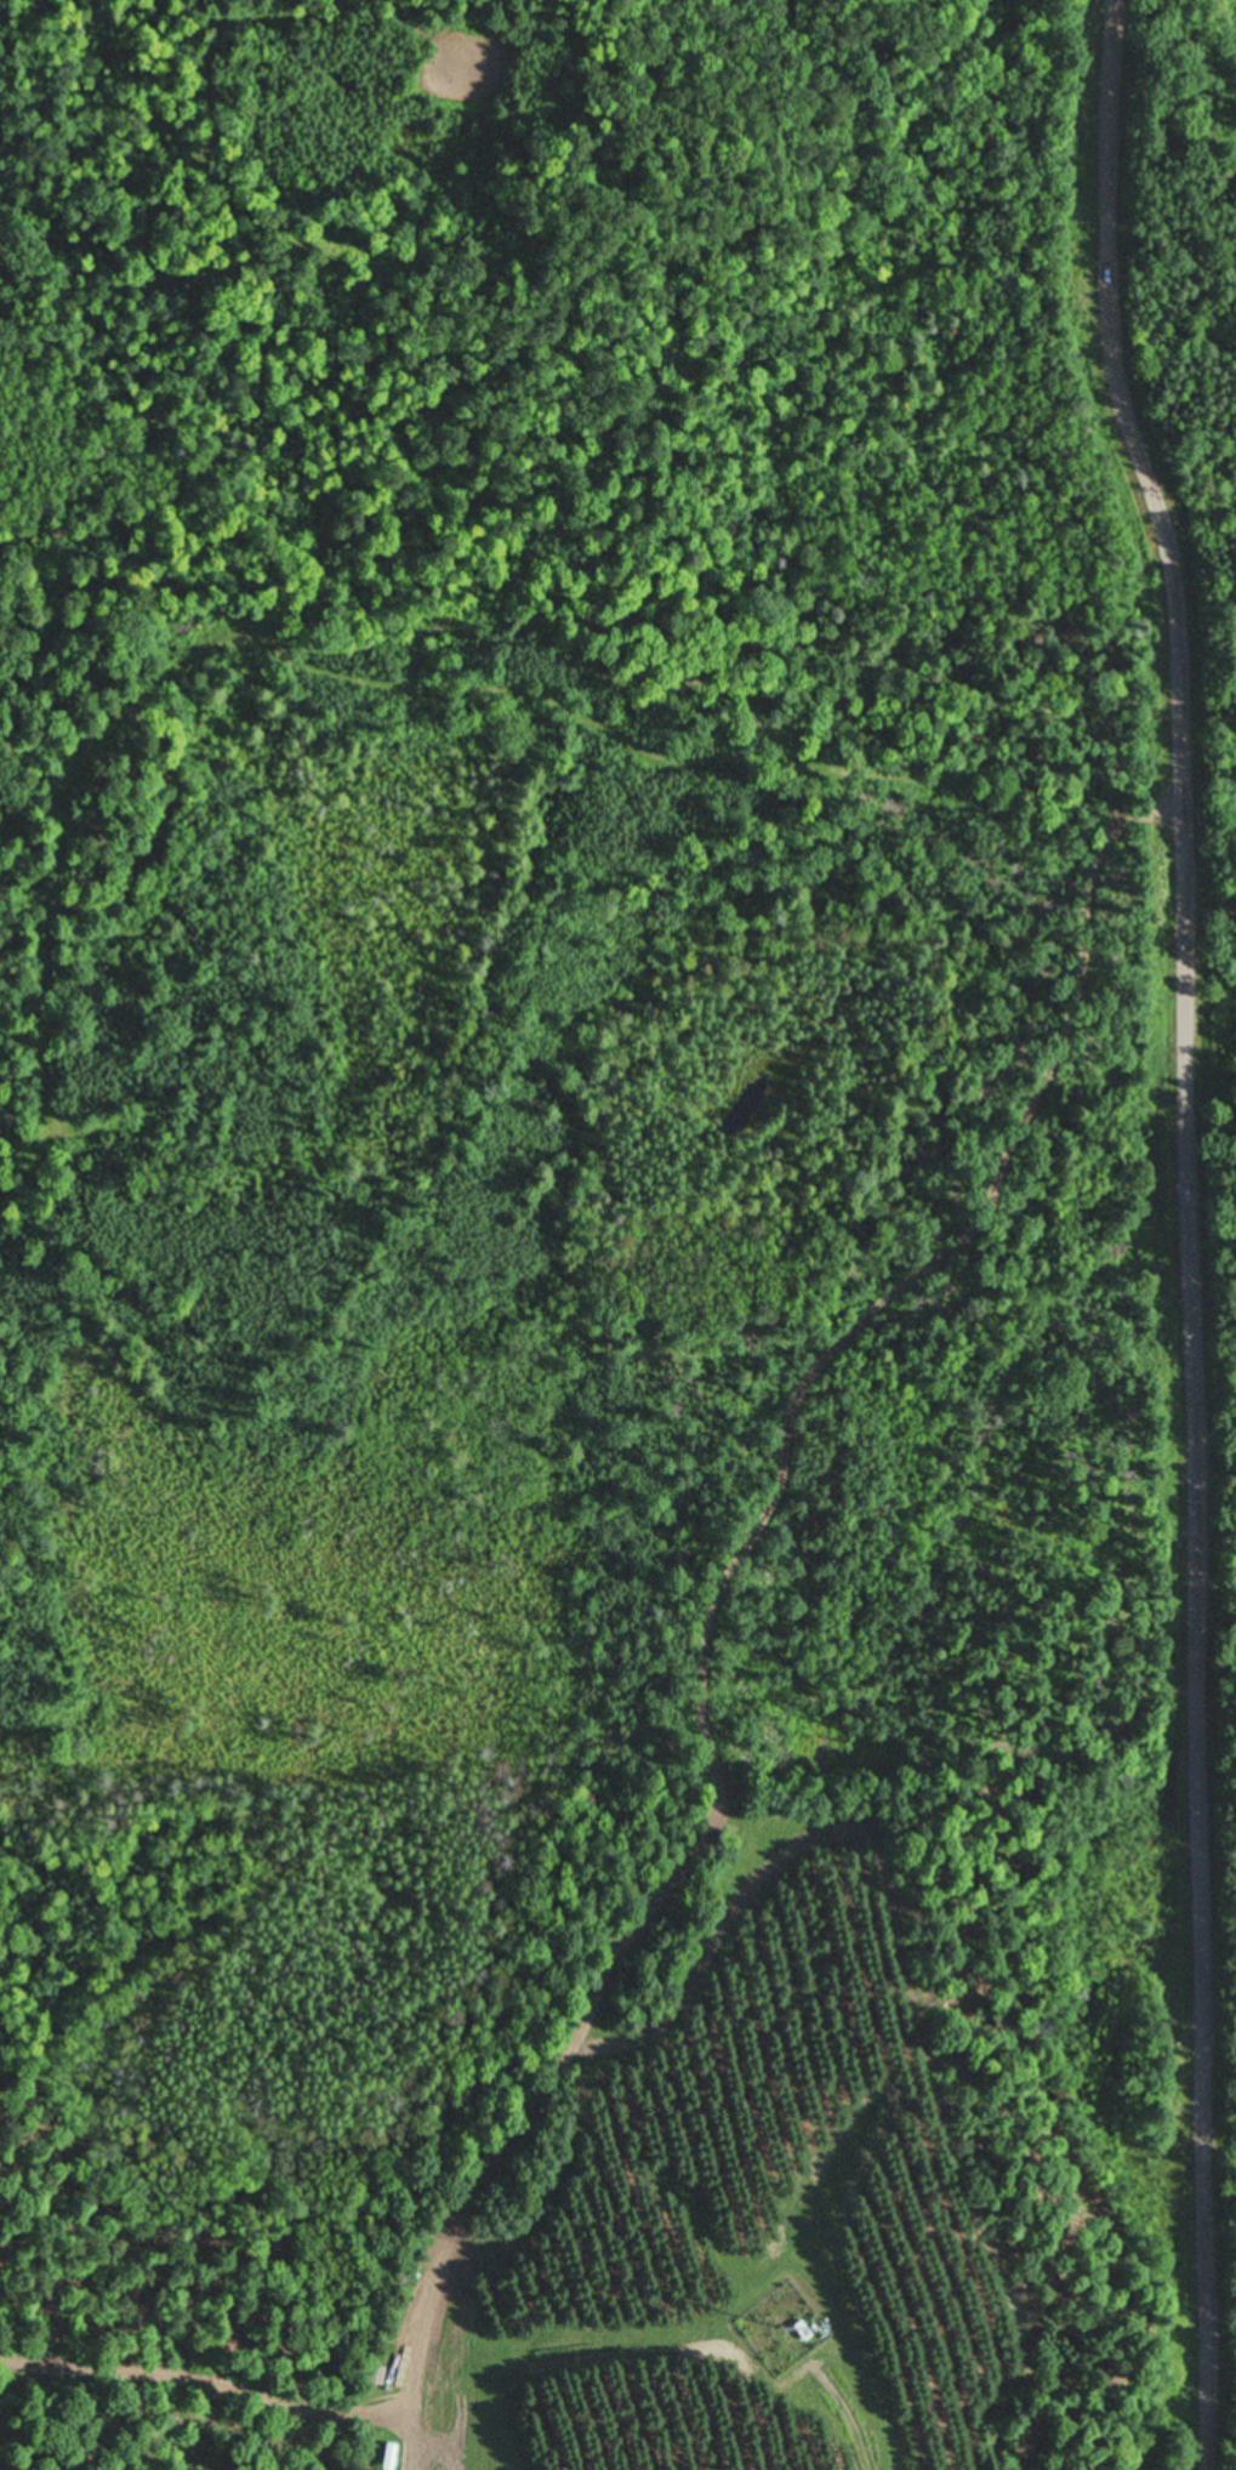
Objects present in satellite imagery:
road: (740, 827)
road: (1163, 1234)
building: (375, 2375)

